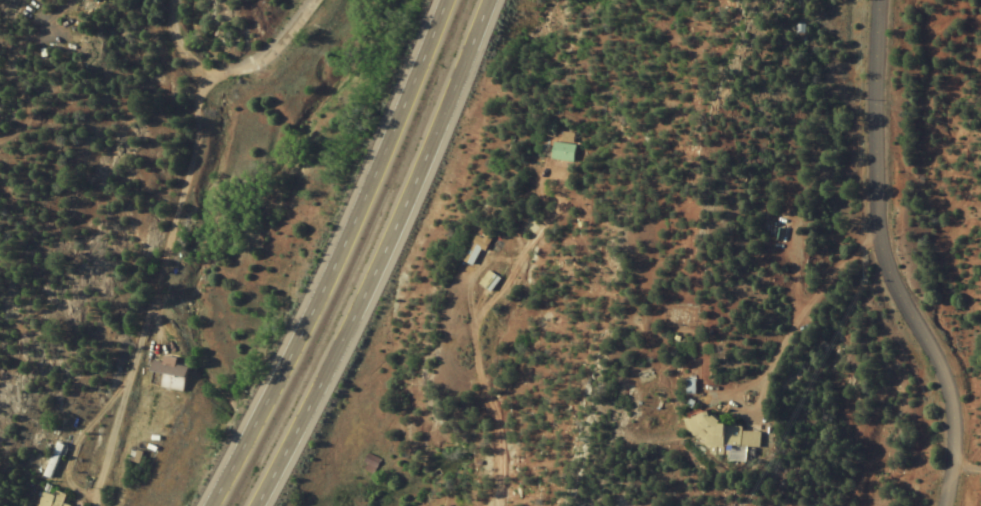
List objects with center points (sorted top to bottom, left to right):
road: (93, 90)
building: (563, 149)
road: (160, 211)
road: (385, 254)
building: (471, 254)
road: (335, 255)
road: (876, 259)
building: (487, 282)
building: (165, 374)
building: (723, 438)
building: (133, 455)
building: (49, 460)
building: (370, 464)
building: (49, 500)

